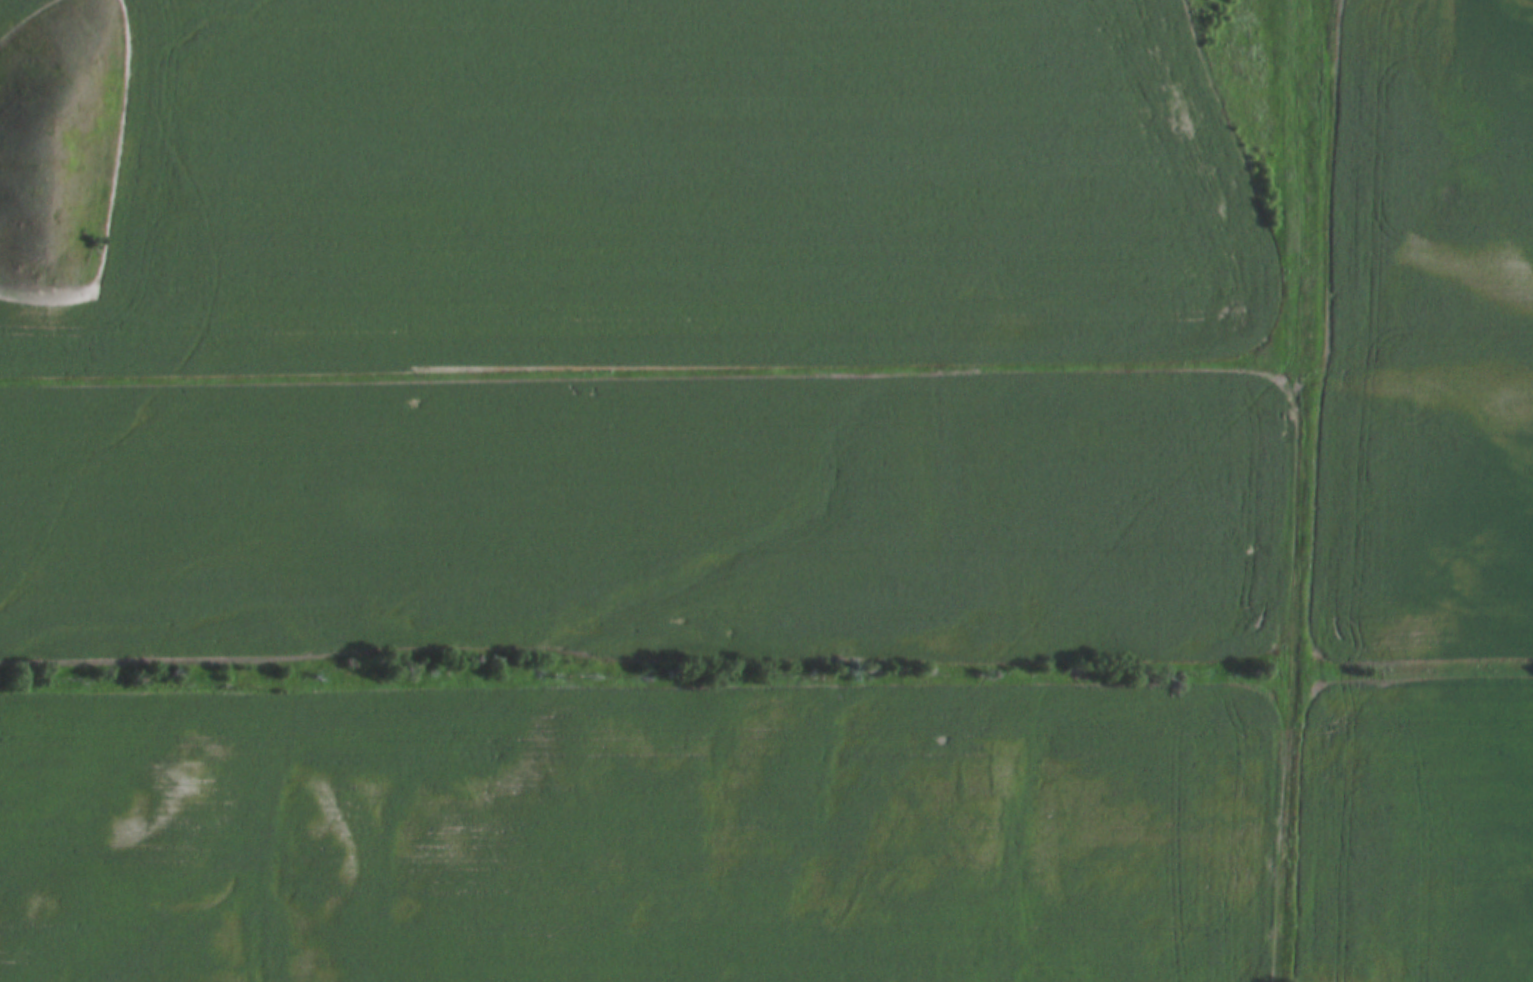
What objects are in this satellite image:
road: (1316, 490)

